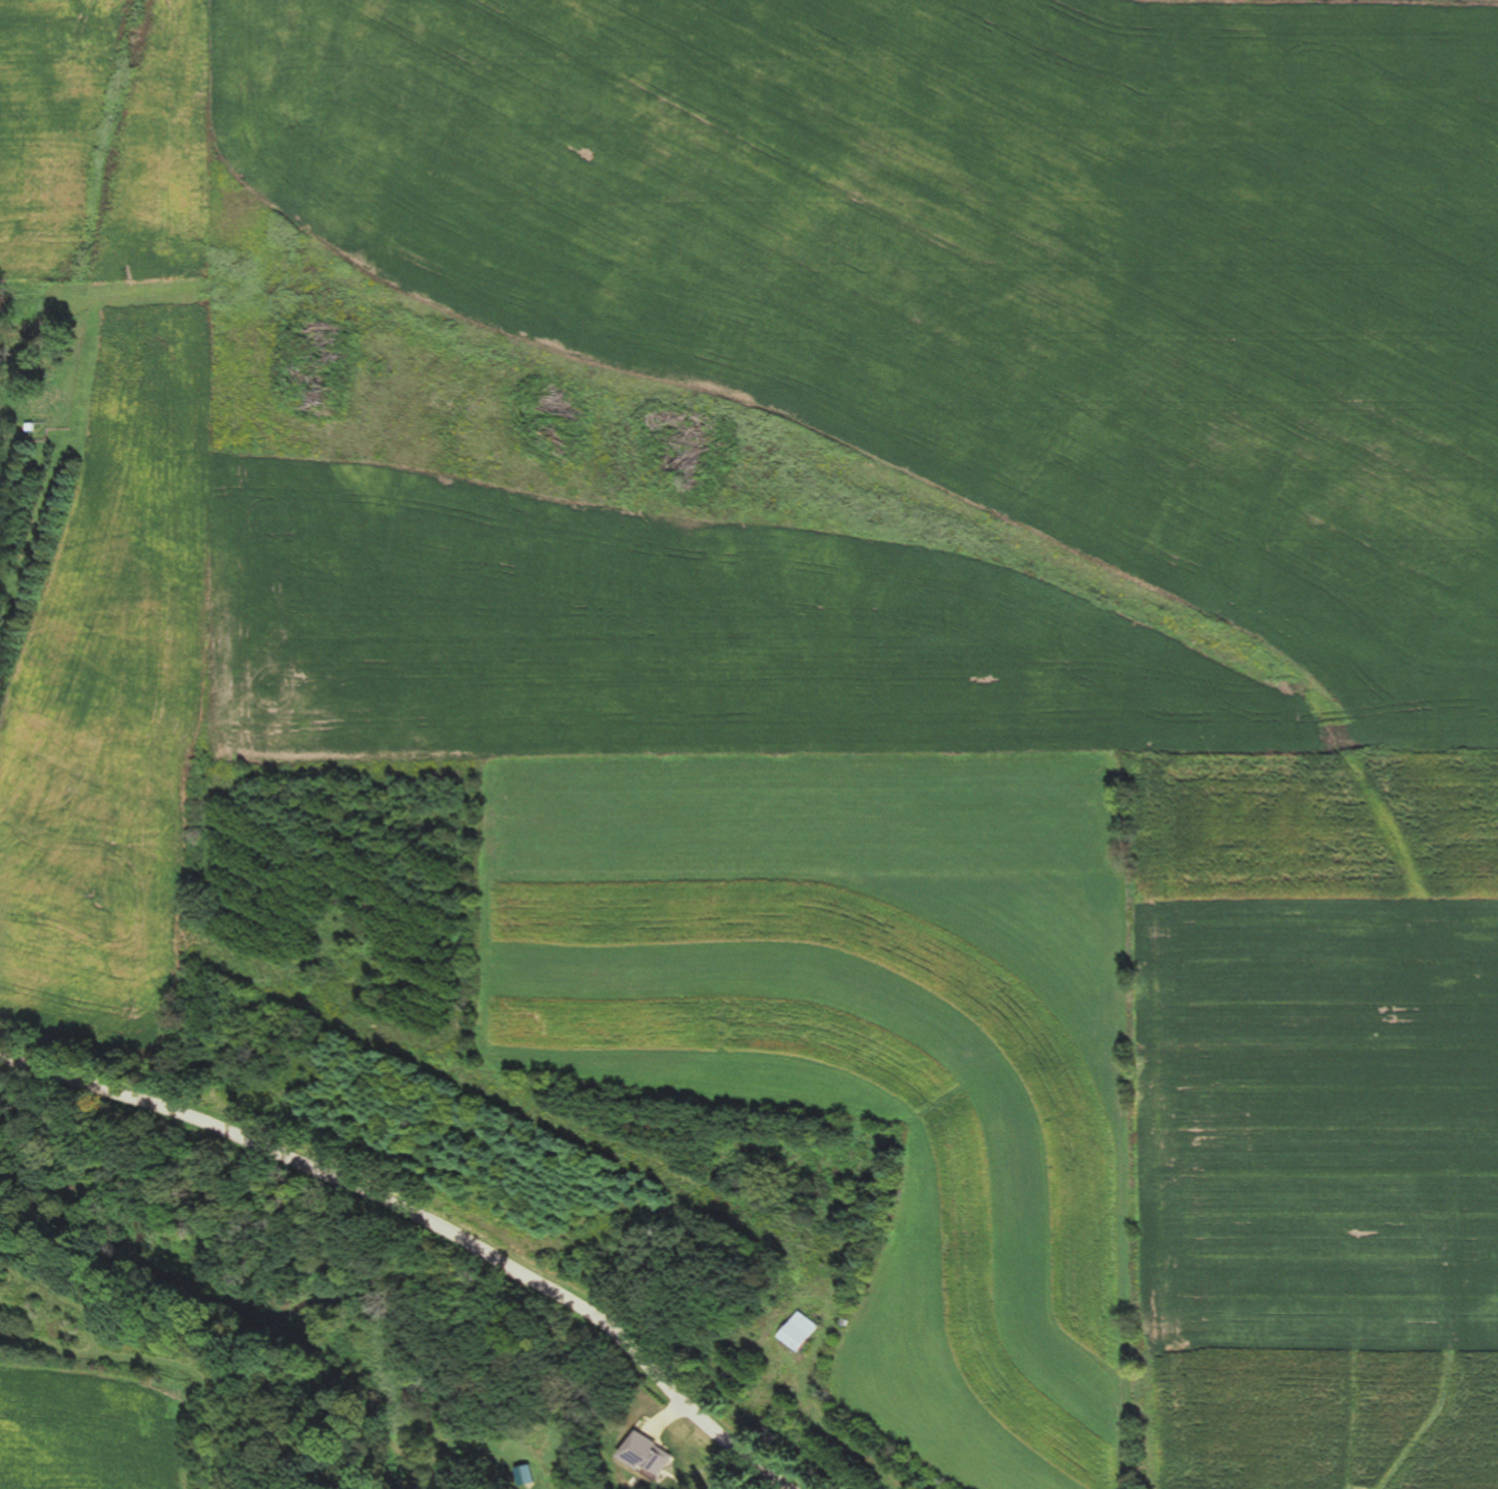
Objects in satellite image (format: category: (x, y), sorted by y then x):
road: (423, 1221)
building: (801, 1332)

